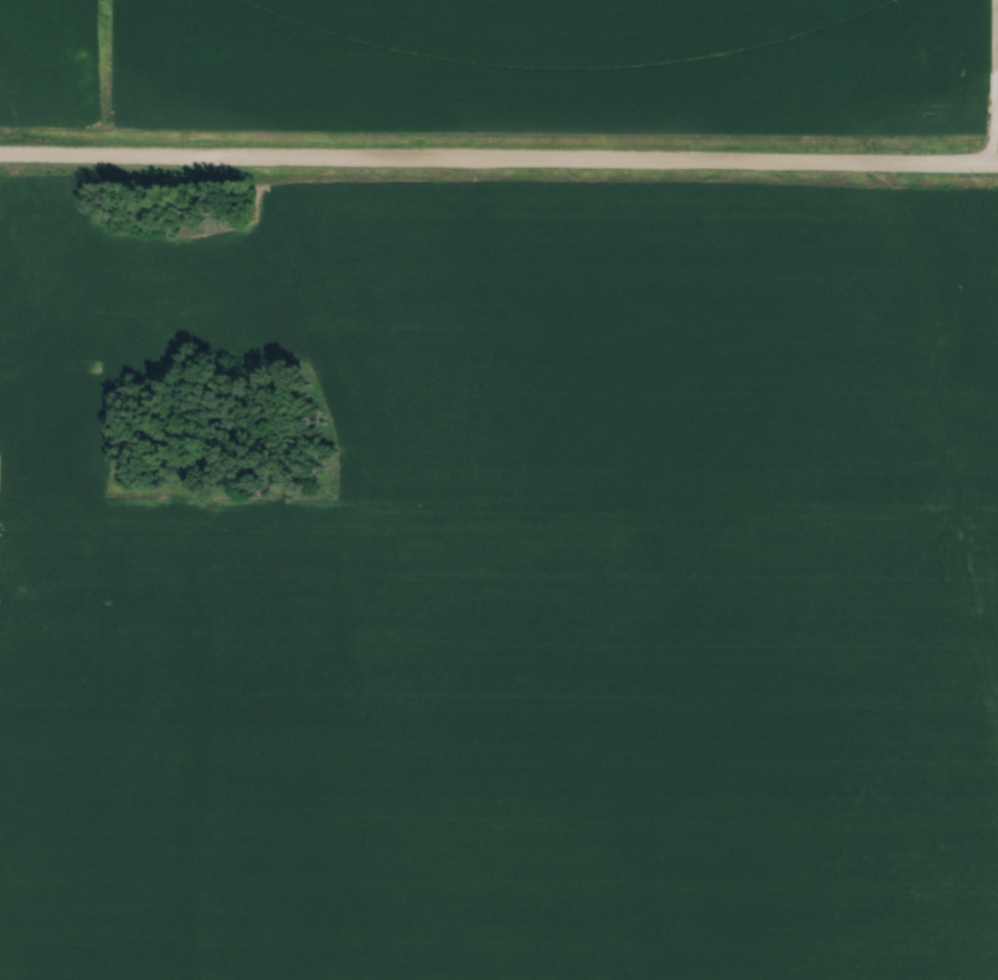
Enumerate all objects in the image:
road: (992, 83)
road: (499, 161)

